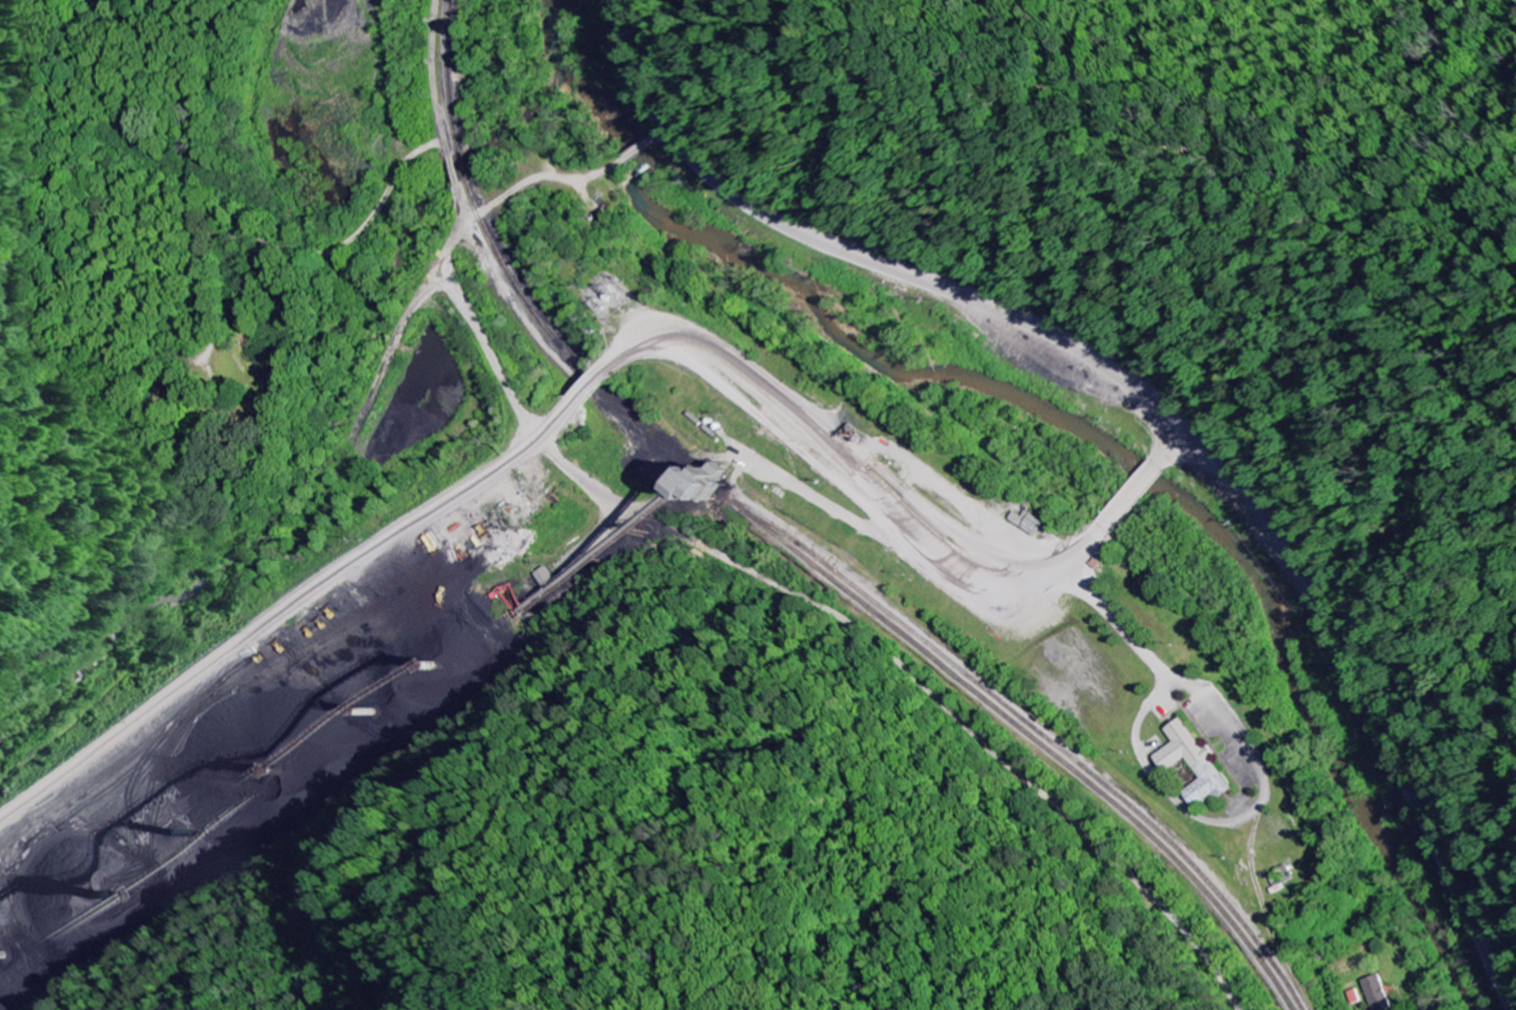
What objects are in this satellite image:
road: (628, 66)
road: (597, 385)
road: (562, 420)
road: (1172, 443)
road: (1207, 450)
road: (857, 478)
building: (703, 487)
road: (464, 491)
road: (1133, 494)
railway: (793, 553)
building: (1192, 764)
building: (1376, 993)

